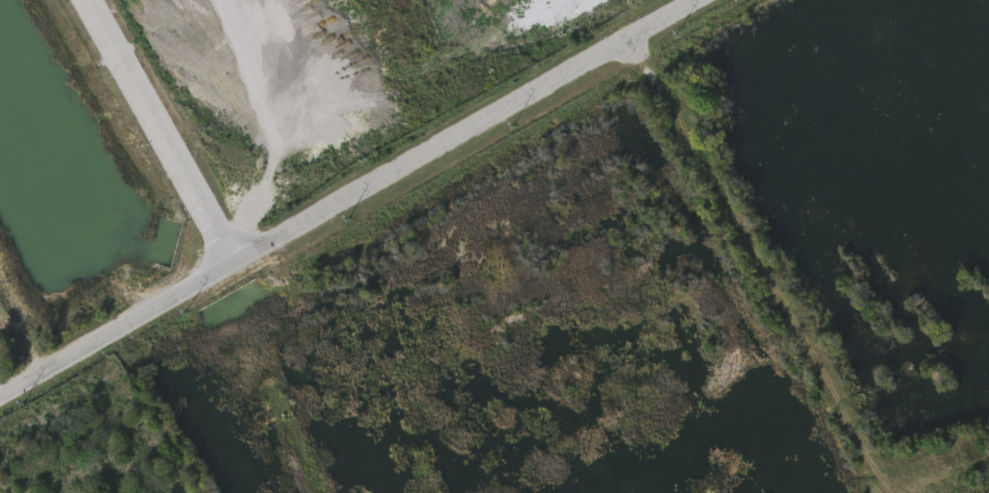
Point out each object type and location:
road: (154, 129)
road: (459, 129)
road: (762, 263)
road: (113, 326)
road: (20, 328)

